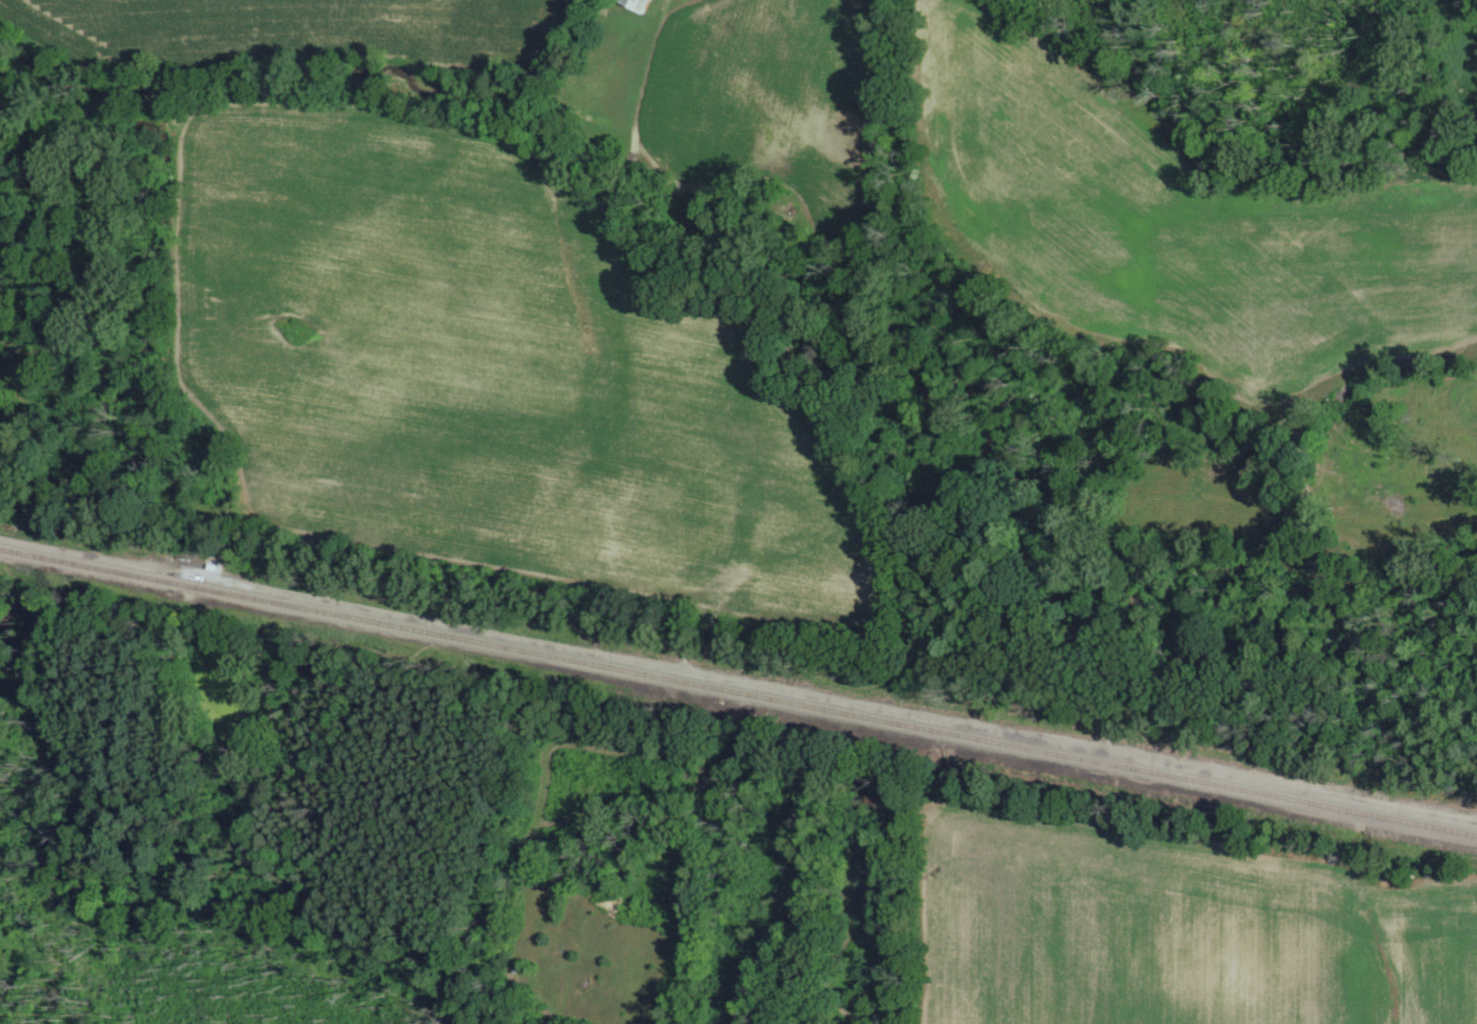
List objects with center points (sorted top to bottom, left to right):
building: (633, 3)
river: (822, 290)
railway: (738, 689)

